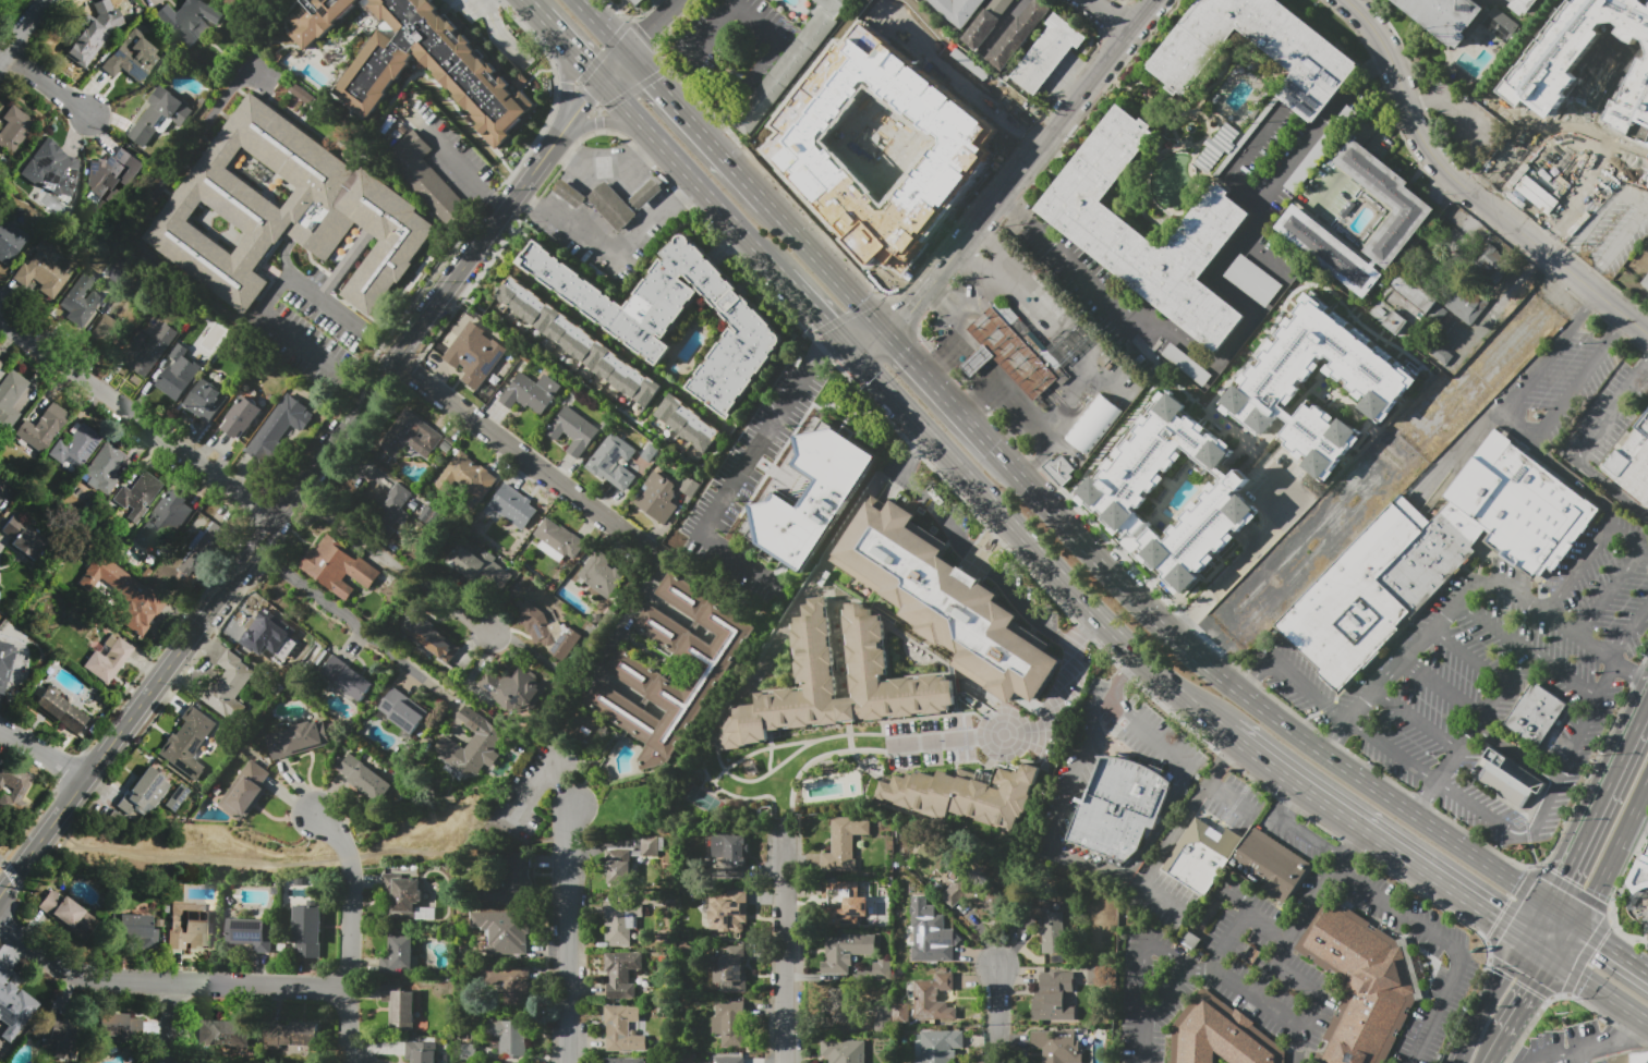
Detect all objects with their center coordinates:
building: (639, 1)
road: (732, 1)
road: (486, 2)
building: (1524, 4)
road: (532, 8)
road: (1017, 8)
building: (958, 10)
road: (1108, 15)
building: (1443, 16)
building: (317, 20)
building: (189, 21)
road: (756, 21)
building: (1500, 23)
building: (989, 24)
road: (549, 25)
road: (605, 26)
road: (653, 26)
road: (714, 28)
road: (24, 30)
building: (94, 33)
road: (498, 34)
traffic signals: (646, 34)
building: (1019, 37)
building: (1297, 47)
building: (1570, 48)
building: (1047, 56)
building: (132, 59)
road: (580, 59)
traffic signals: (586, 65)
building: (791, 65)
road: (1385, 65)
building: (434, 68)
road: (748, 78)
traffic signals: (654, 81)
road: (567, 84)
road: (47, 85)
road: (592, 91)
traffic signals: (583, 101)
building: (1633, 106)
building: (1347, 114)
building: (160, 115)
parking lot: (1461, 120)
road: (602, 122)
road: (1549, 125)
road: (711, 126)
road: (698, 127)
road: (1054, 127)
building: (14, 131)
building: (874, 143)
building: (1216, 147)
road: (1504, 149)
parking lot: (1285, 151)
road: (1241, 157)
road: (456, 160)
building: (1311, 161)
road: (678, 162)
road: (603, 167)
road: (1289, 167)
building: (51, 168)
building: (424, 176)
building: (112, 178)
road: (683, 187)
road: (1468, 191)
parking lot: (1325, 193)
building: (571, 195)
gas station: (571, 195)
building: (647, 195)
gas station: (647, 195)
building: (1540, 196)
road: (1635, 197)
road: (529, 198)
building: (1385, 199)
road: (1005, 204)
road: (1646, 204)
building: (613, 207)
building: (287, 211)
road: (646, 227)
parking lot: (1612, 230)
road: (579, 231)
building: (1101, 233)
building: (10, 241)
road: (726, 245)
building: (1330, 251)
road: (766, 261)
road: (1263, 262)
road: (987, 264)
road: (827, 267)
building: (46, 269)
building: (1252, 280)
building: (1646, 282)
road: (1234, 294)
road: (922, 296)
road: (272, 297)
road: (1106, 297)
road: (1503, 300)
building: (1465, 303)
parking lot: (1116, 304)
building: (1402, 306)
building: (85, 309)
road: (814, 309)
traffic signals: (909, 314)
building: (675, 317)
traffic signals: (826, 322)
road: (1049, 322)
road: (867, 338)
road: (1235, 341)
building: (449, 342)
building: (578, 345)
road: (836, 349)
building: (149, 351)
traffic signals: (905, 351)
building: (473, 354)
traffic signals: (823, 354)
building: (1008, 354)
road: (940, 356)
building: (1, 364)
road: (1643, 364)
building: (179, 376)
road: (929, 377)
road: (1114, 382)
parking lot: (1561, 383)
road: (996, 386)
building: (1270, 389)
building: (531, 392)
building: (10, 398)
road: (978, 399)
building: (206, 402)
road: (137, 416)
building: (240, 416)
parking lot: (1605, 417)
building: (1093, 423)
building: (283, 424)
building: (688, 426)
building: (43, 427)
building: (573, 430)
road: (1525, 431)
building: (411, 436)
road: (983, 436)
road: (1386, 442)
road: (1467, 442)
building: (74, 449)
road: (914, 451)
road: (514, 452)
road: (1395, 452)
road: (1427, 452)
road: (1579, 452)
road: (1042, 454)
building: (620, 462)
building: (1632, 464)
park: (1385, 465)
building: (102, 468)
building: (1059, 468)
building: (466, 476)
road: (1575, 482)
road: (737, 484)
building: (2, 485)
building: (687, 486)
building: (1123, 487)
building: (138, 494)
building: (661, 496)
building: (813, 499)
road: (961, 501)
building: (511, 504)
building: (391, 509)
road: (279, 512)
building: (428, 516)
building: (163, 523)
building: (24, 537)
building: (559, 538)
road: (1628, 539)
road: (1030, 546)
building: (203, 550)
building: (1431, 555)
road: (1243, 557)
road: (392, 560)
road: (828, 563)
road: (985, 563)
building: (337, 567)
road: (1575, 569)
building: (477, 571)
building: (604, 575)
road: (1465, 592)
road: (1611, 595)
building: (130, 597)
building: (946, 603)
road: (351, 622)
building: (543, 627)
building: (252, 628)
road: (1084, 628)
building: (427, 636)
road: (1632, 637)
road: (1208, 645)
building: (9, 648)
road: (1077, 648)
road: (1527, 649)
road: (1468, 656)
road: (601, 657)
building: (109, 658)
road: (1632, 672)
building: (814, 673)
building: (637, 674)
building: (342, 675)
road: (1120, 676)
road: (1290, 676)
road: (1605, 681)
parking lot: (1494, 682)
building: (229, 686)
building: (516, 687)
road: (1443, 688)
road: (1252, 698)
building: (60, 711)
building: (404, 712)
building: (1537, 713)
road: (1482, 716)
road: (1417, 721)
building: (586, 729)
road: (877, 734)
road: (1006, 734)
road: (850, 735)
road: (1334, 738)
building: (296, 740)
building: (187, 742)
parking lot: (930, 743)
building: (471, 745)
road: (776, 746)
road: (770, 750)
road: (1392, 750)
road: (41, 752)
road: (870, 752)
road: (1517, 753)
road: (1264, 759)
road: (810, 765)
road: (704, 770)
road: (1075, 771)
road: (763, 777)
building: (375, 778)
building: (1511, 779)
building: (15, 780)
road: (556, 786)
road: (528, 789)
building: (245, 791)
building: (143, 794)
building: (966, 794)
building: (175, 797)
road: (1231, 797)
road: (1599, 797)
road: (749, 798)
road: (1426, 798)
park: (703, 799)
road: (1290, 803)
road: (1331, 806)
building: (1120, 808)
road: (1189, 814)
road: (1541, 816)
road: (1164, 820)
road: (1309, 840)
building: (846, 842)
road: (1346, 847)
building: (730, 852)
road: (1613, 853)
building: (1201, 857)
parking lot: (1305, 857)
road: (303, 862)
building: (628, 862)
road: (1, 864)
building: (1270, 865)
building: (1639, 872)
traffic signals: (1563, 876)
road: (12, 877)
building: (510, 881)
road: (1443, 883)
building: (966, 893)
building: (407, 895)
building: (837, 901)
road: (1159, 901)
building: (729, 911)
road: (1564, 912)
building: (68, 915)
road: (1244, 920)
road: (1538, 920)
traffic signals: (1500, 921)
building: (620, 925)
road: (1645, 925)
building: (134, 926)
building: (187, 926)
building: (1051, 929)
building: (307, 930)
building: (504, 931)
building: (250, 932)
road: (348, 933)
road: (567, 933)
building: (930, 933)
building: (1646, 936)
traffic signals: (1602, 938)
road: (1567, 940)
road: (1445, 942)
road: (1613, 944)
road: (790, 946)
road: (1541, 950)
building: (846, 952)
road: (1281, 954)
building: (399, 956)
road: (1144, 957)
building: (728, 968)
building: (882, 970)
building: (621, 974)
road: (165, 980)
building: (510, 981)
road: (1177, 982)
building: (1359, 983)
road: (1601, 988)
road: (1312, 991)
traffic signals: (1536, 991)
building: (1055, 997)
road: (1531, 997)
road: (1566, 997)
building: (933, 998)
road: (1494, 1001)
building: (400, 1005)
building: (836, 1005)
building: (12, 1006)
road: (996, 1007)
building: (900, 1012)
building: (883, 1018)
road: (1647, 1018)
road: (168, 1022)
building: (731, 1024)
road: (1639, 1027)
building: (118, 1028)
building: (622, 1029)
building: (221, 1034)
building: (295, 1035)
building: (1217, 1035)
building: (509, 1036)
building: (60, 1039)
road: (1298, 1043)
road: (1607, 1044)
building: (937, 1046)
building: (1055, 1046)
road: (1499, 1048)
building: (844, 1051)
building: (421, 1052)
road: (1558, 1058)
road: (1582, 1058)
building: (1632, 1058)
building: (730, 1060)
building: (623, 1061)

